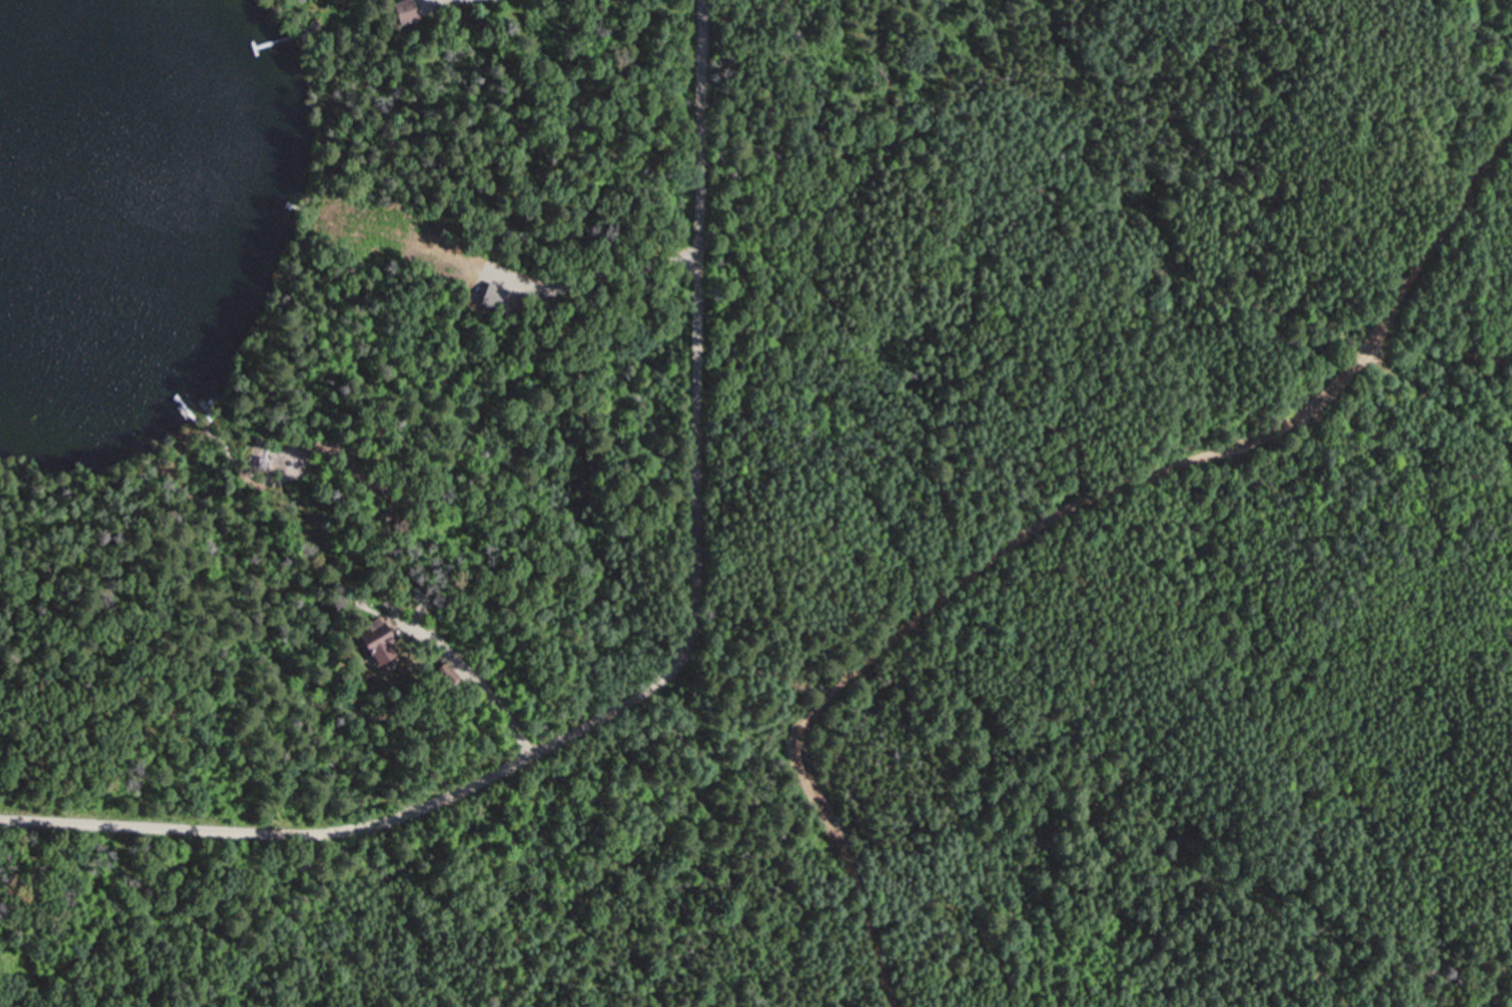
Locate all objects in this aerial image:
building: (400, 12)
road: (1052, 516)
building: (370, 637)
road: (657, 680)
road: (487, 688)

